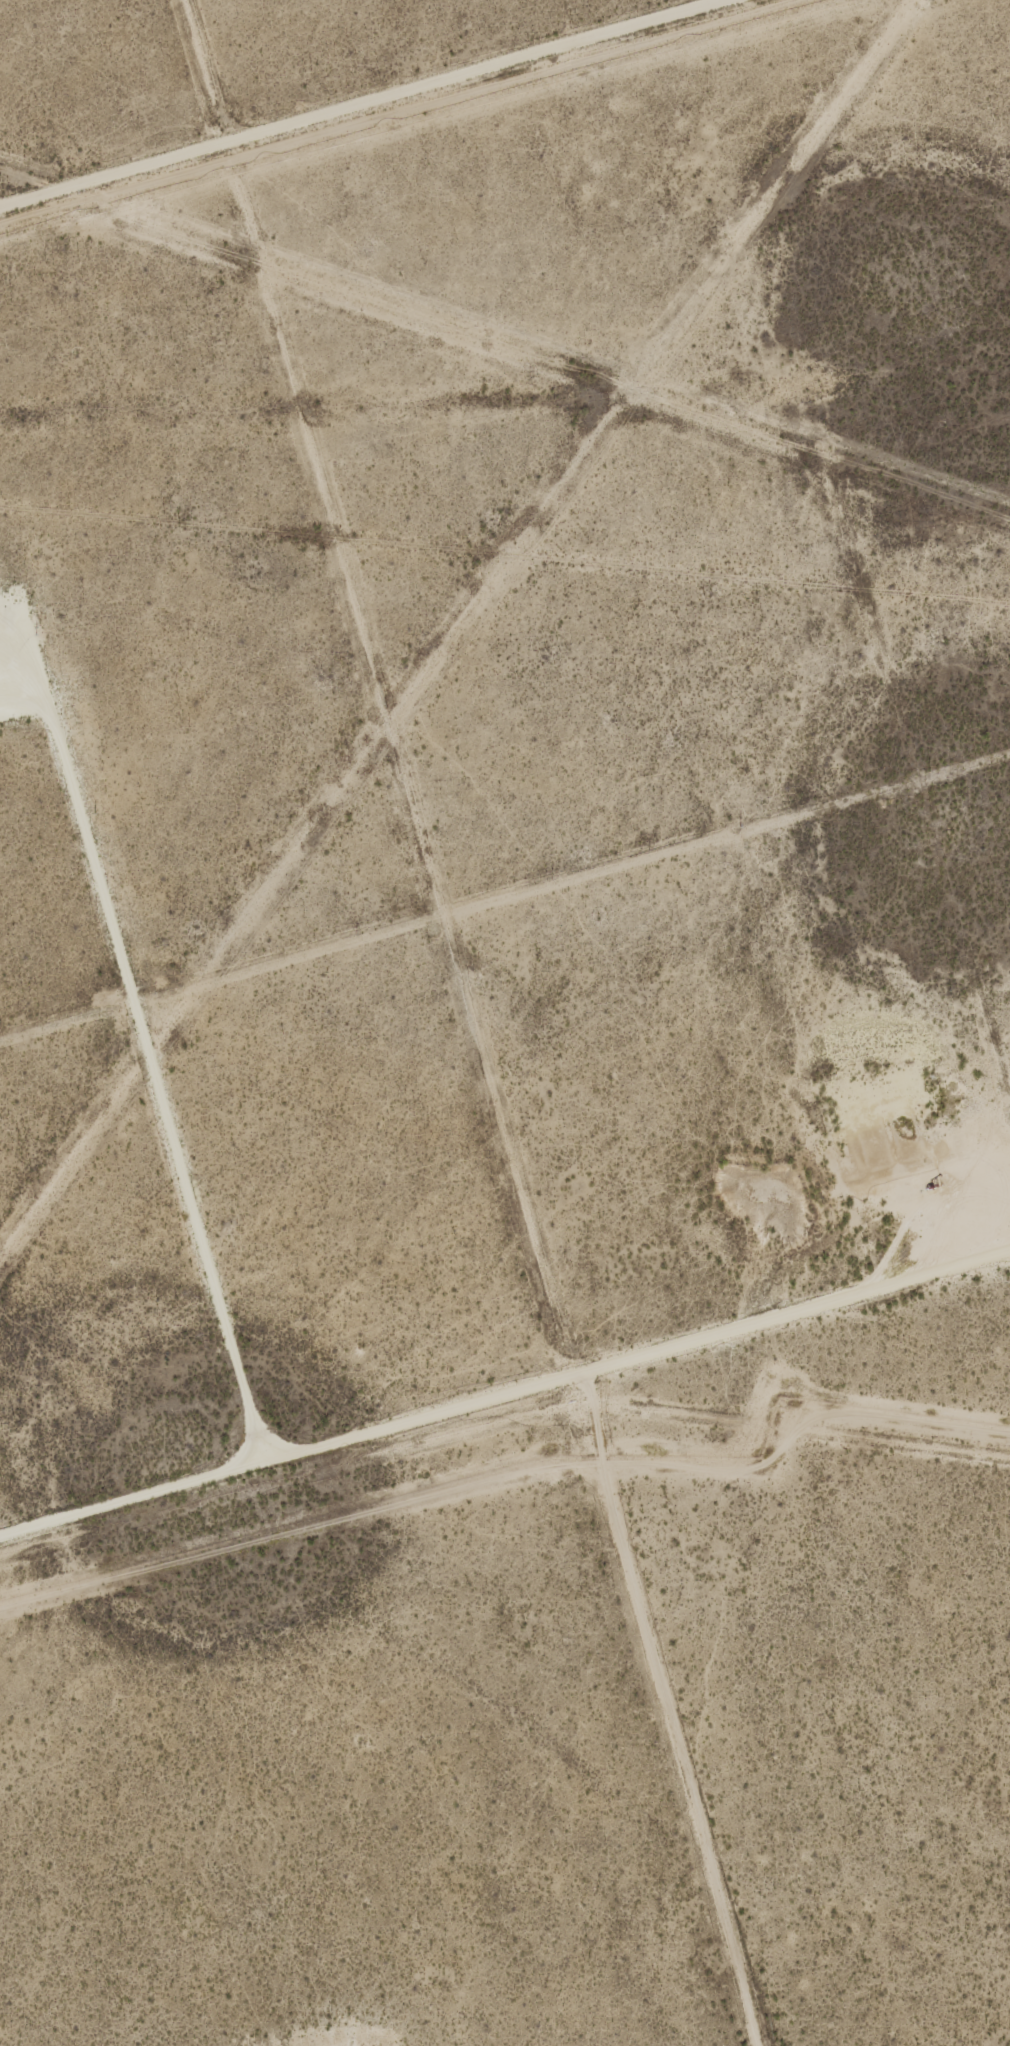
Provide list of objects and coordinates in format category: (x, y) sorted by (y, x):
road: (134, 1027)
petroleum well: (930, 1195)
road: (505, 1388)

